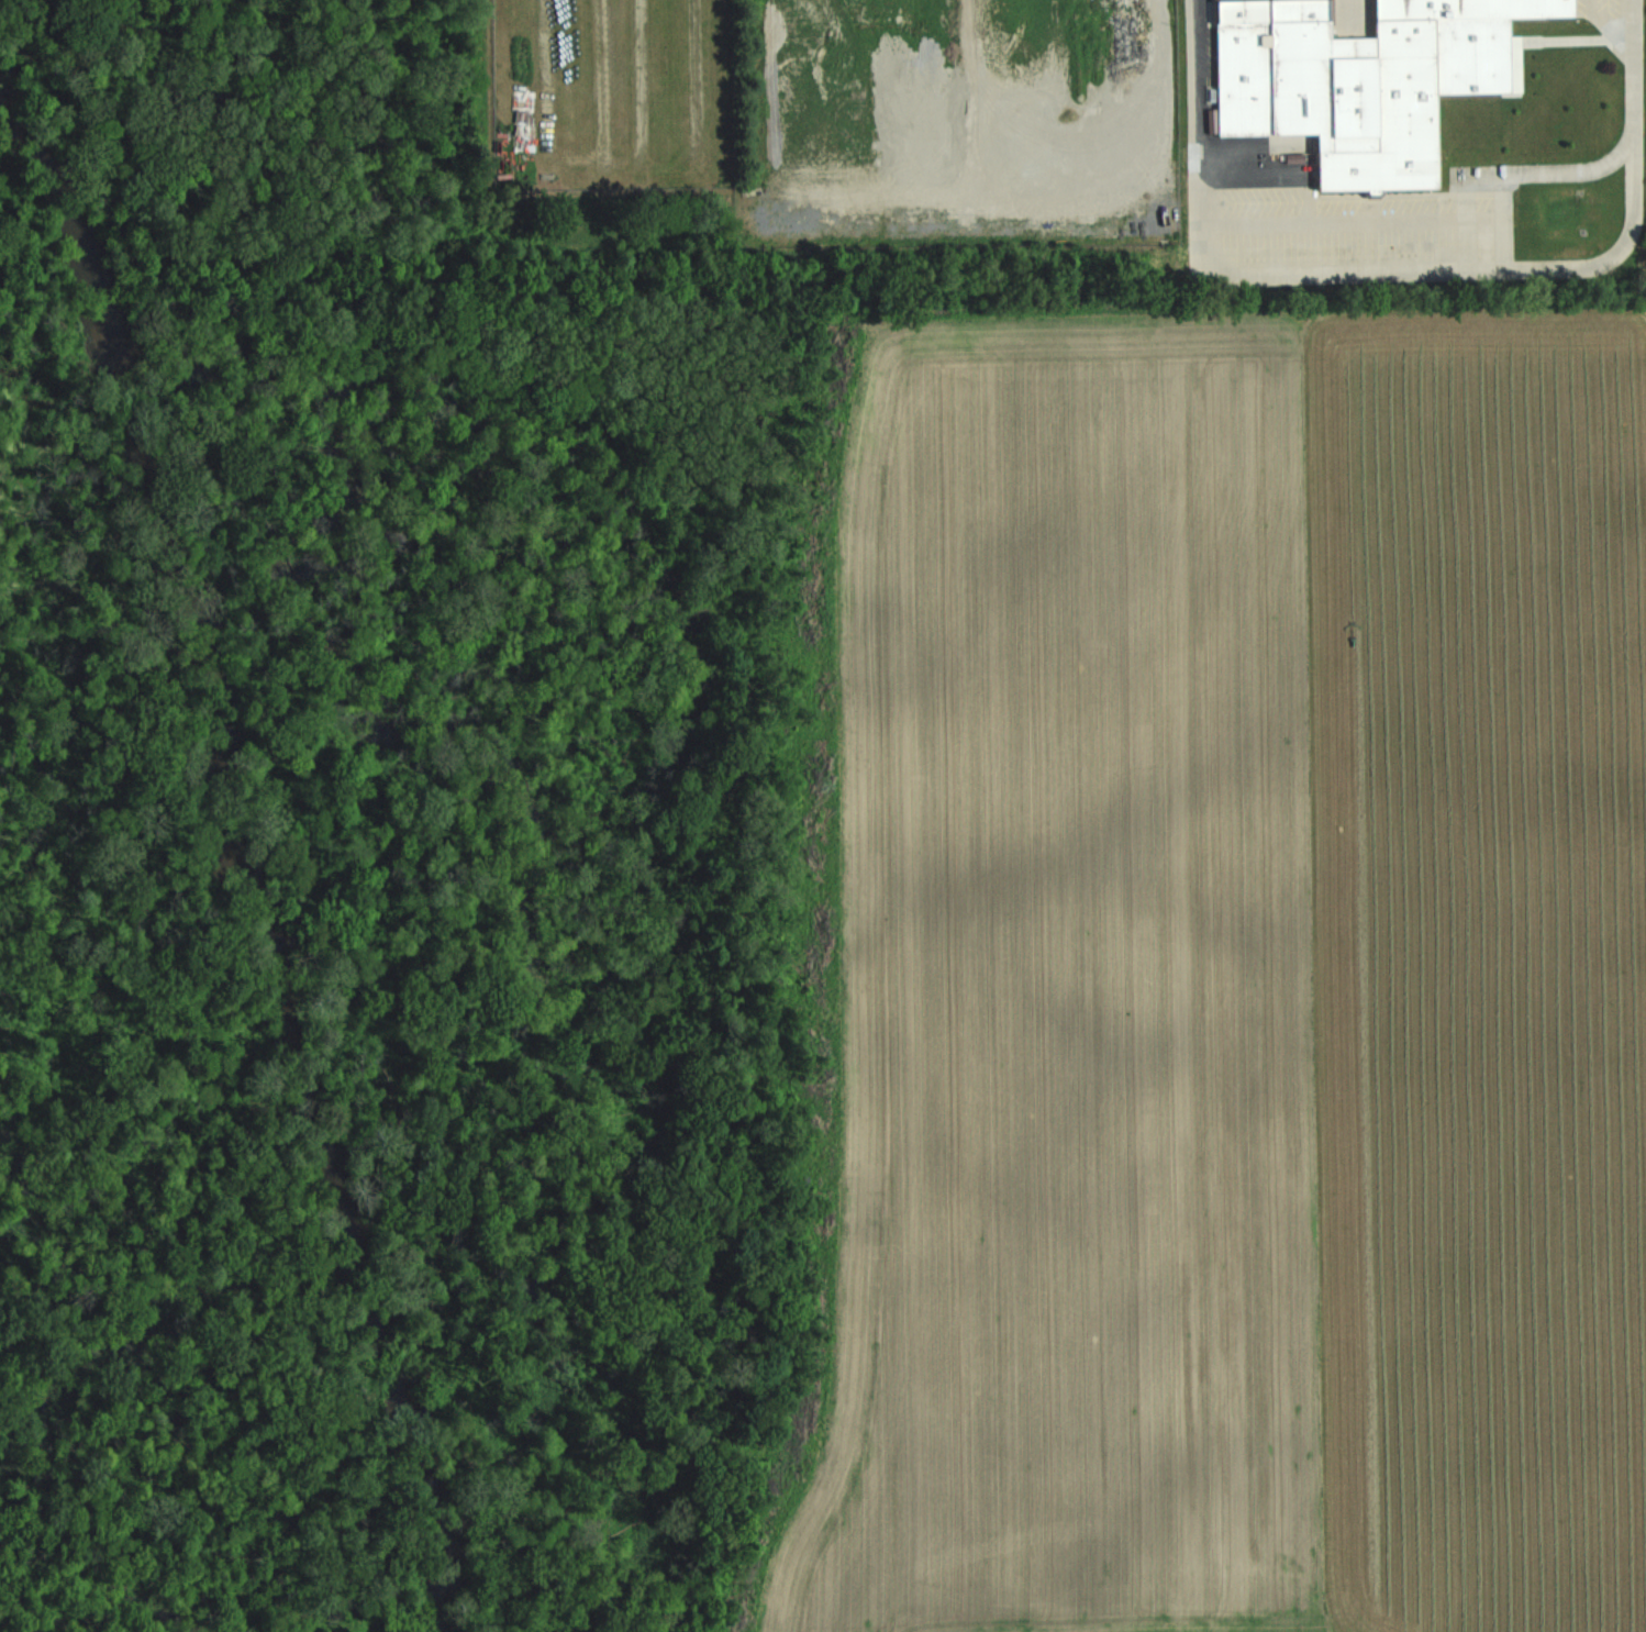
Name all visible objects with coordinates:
building: (1345, 12)
road: (1606, 24)
road: (1631, 69)
building: (1359, 78)
parking lot: (1361, 226)
road: (1335, 270)
crop: (1238, 978)

